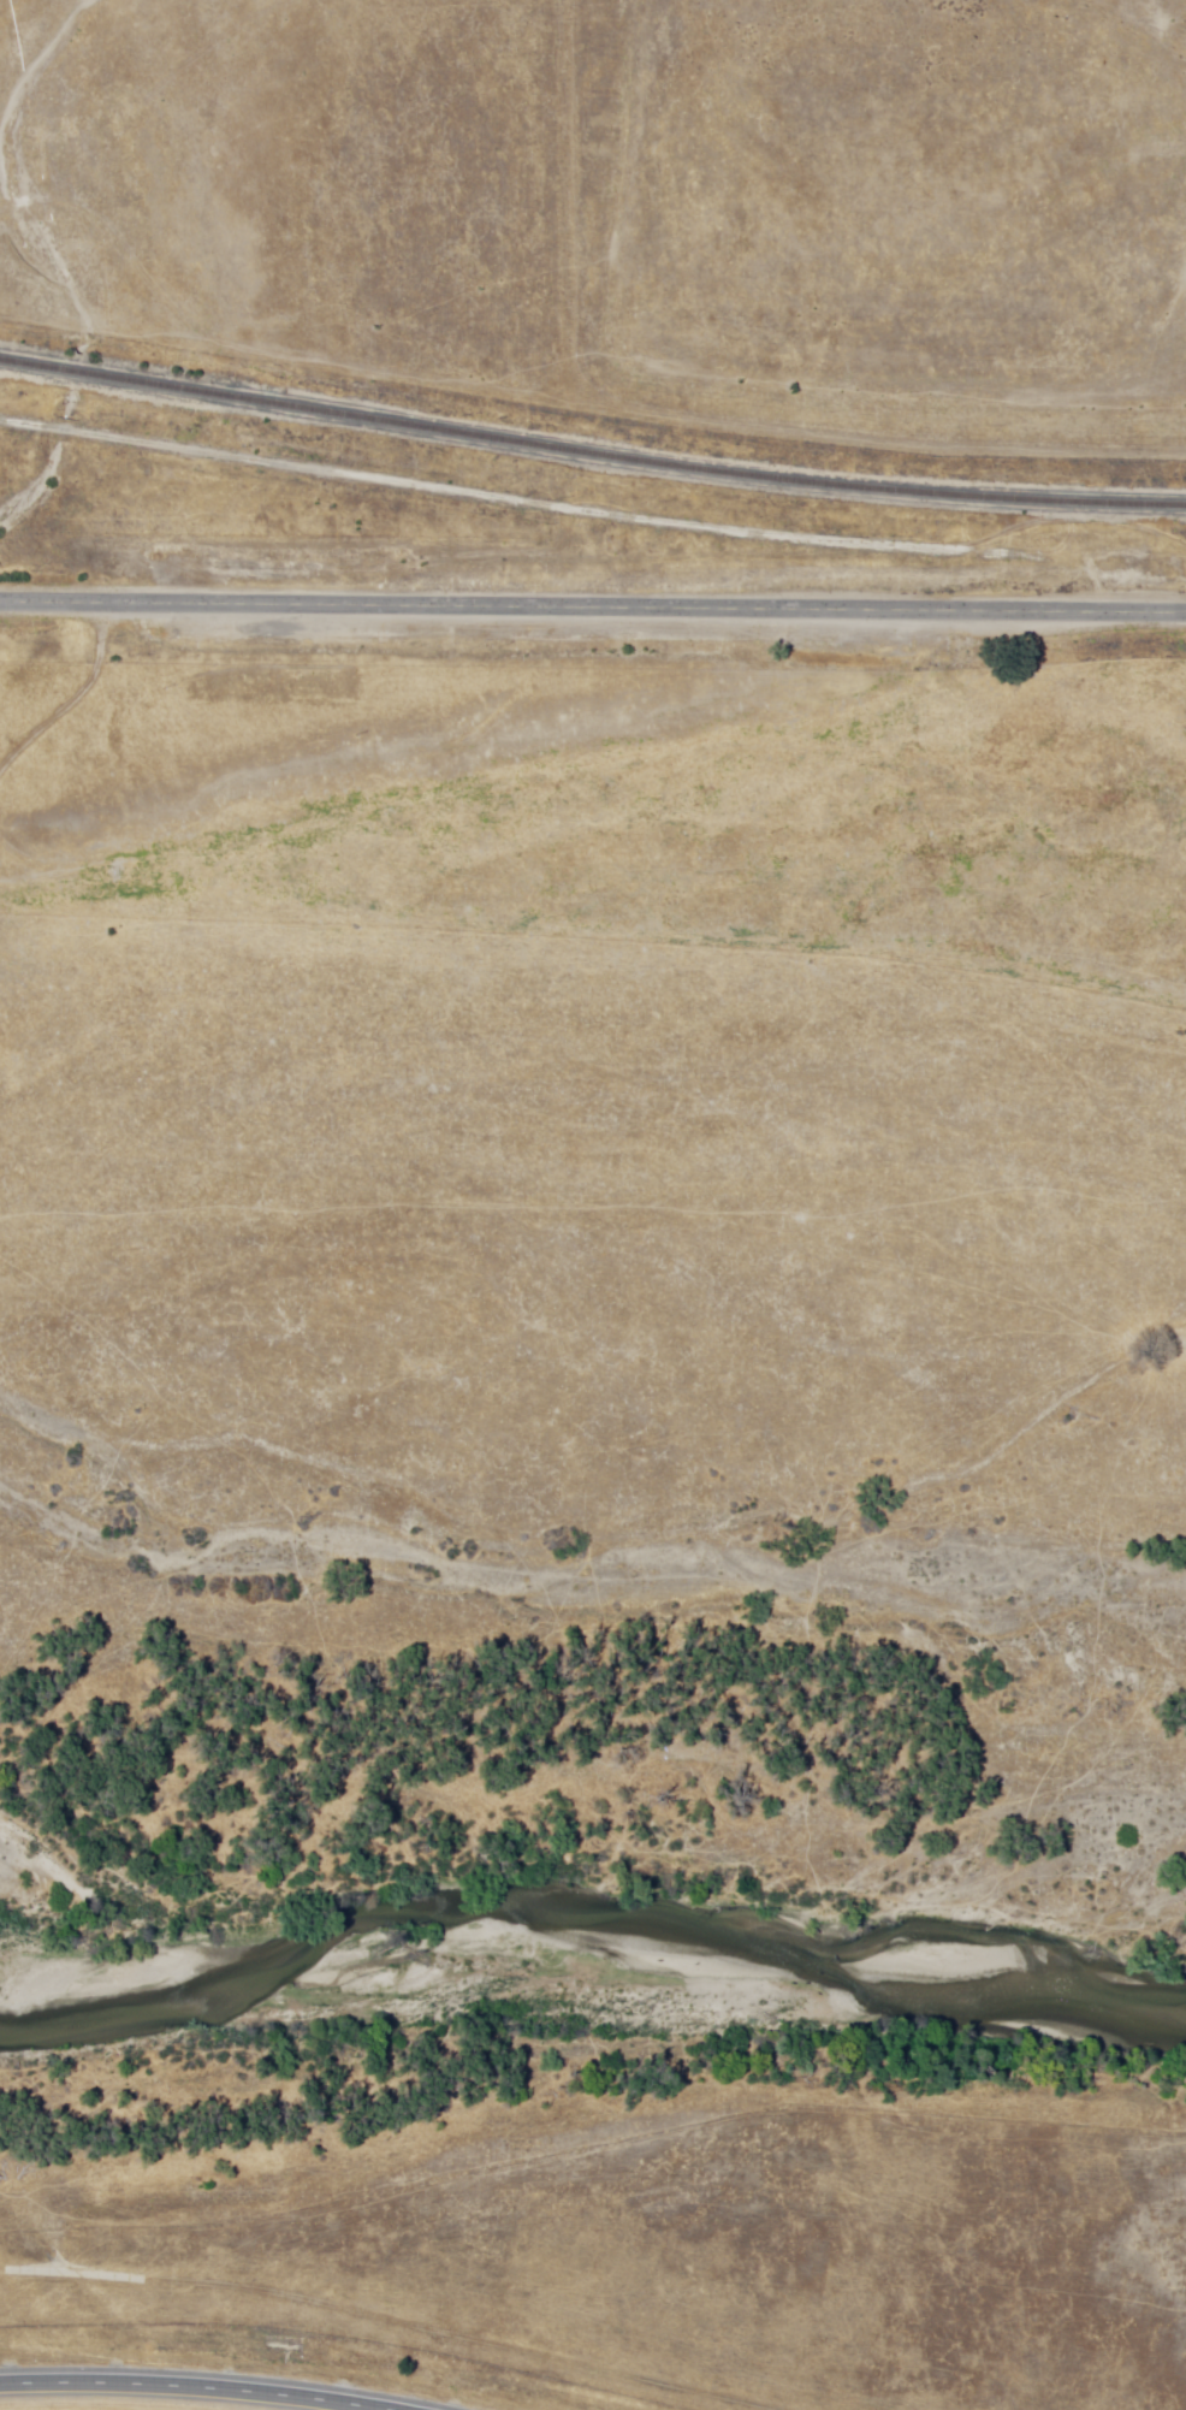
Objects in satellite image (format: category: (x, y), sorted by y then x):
quarry: (899, 214)
road: (686, 415)
railway: (591, 456)
road: (433, 485)
road: (592, 614)
river: (35, 1848)
river: (561, 1915)
river: (131, 1919)
river: (308, 1932)
river: (948, 1971)
road: (390, 2319)
road: (200, 2384)

